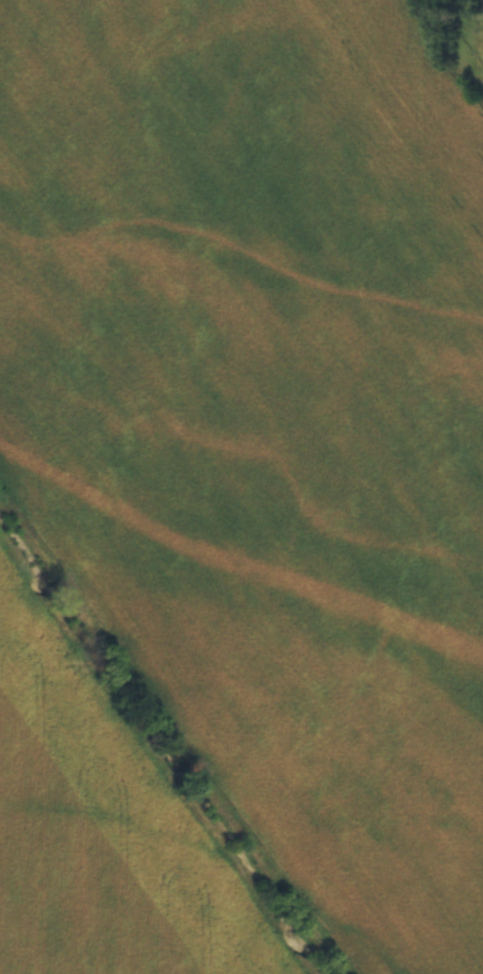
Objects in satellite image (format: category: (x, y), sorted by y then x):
river: (163, 748)

